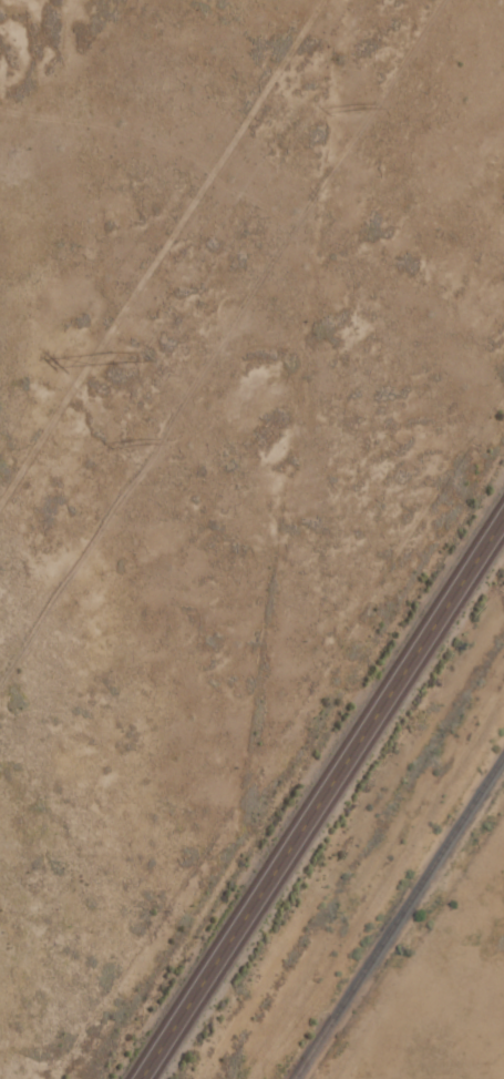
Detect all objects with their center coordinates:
power tower: (110, 353)
road: (319, 794)
railway: (397, 915)

